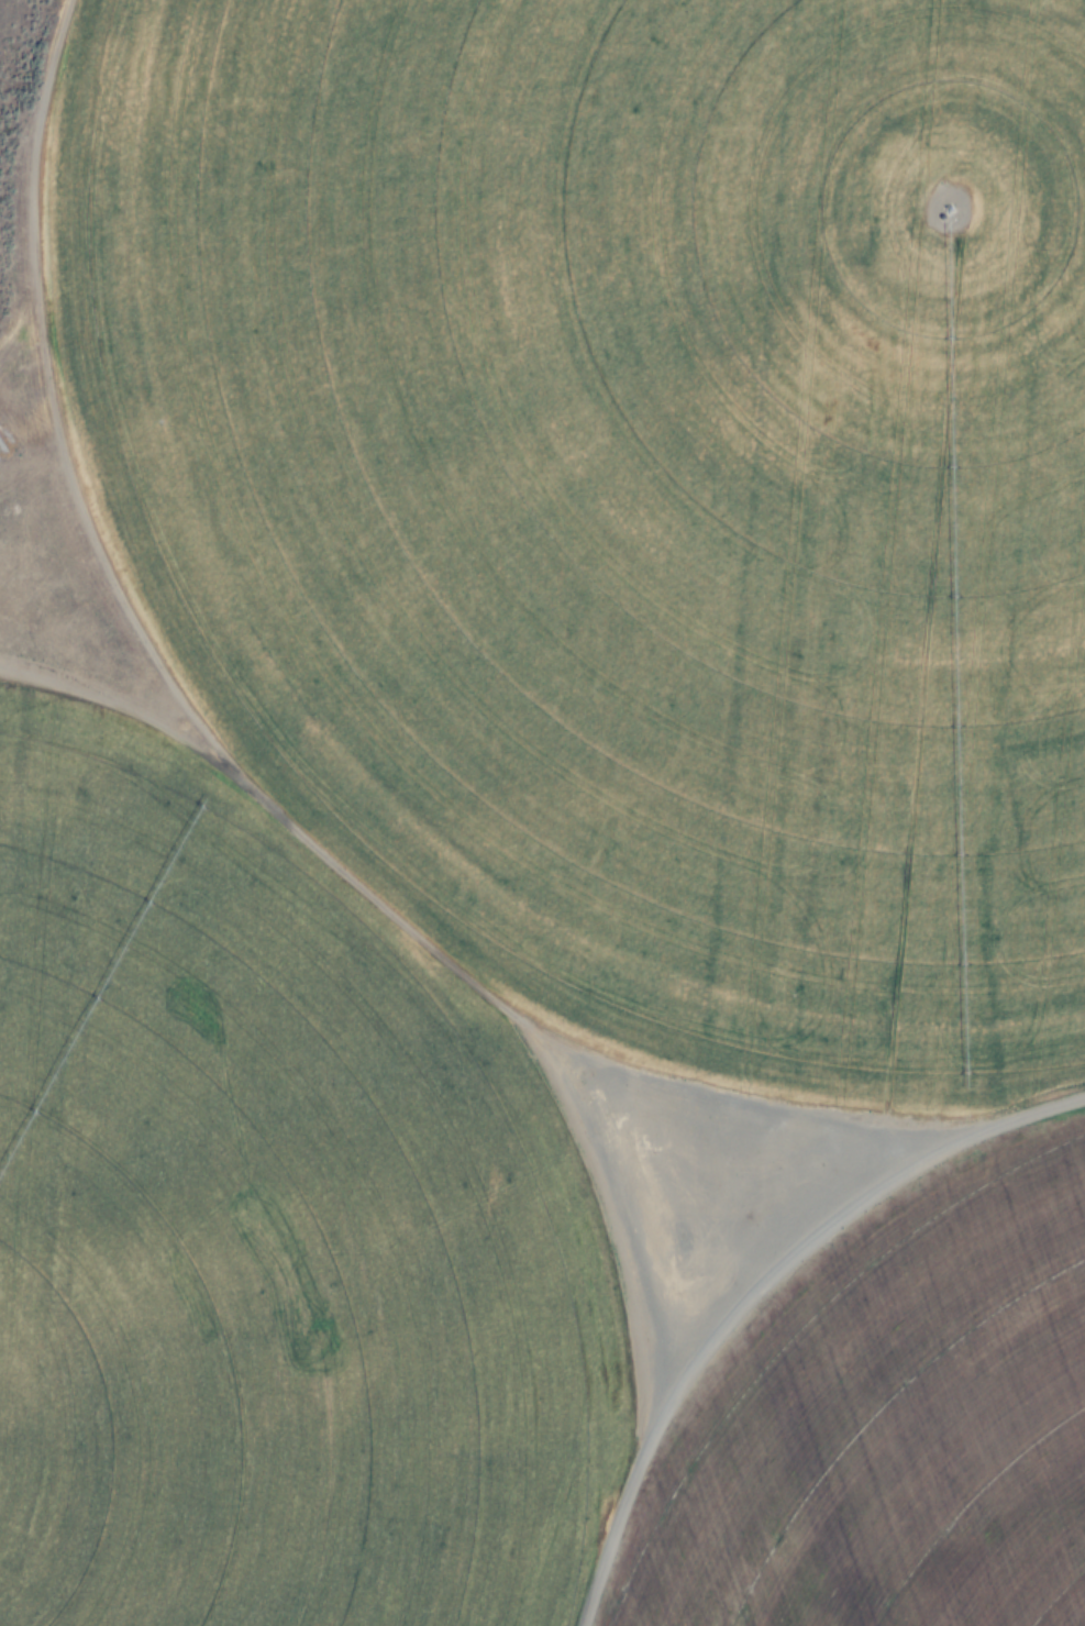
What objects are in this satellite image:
building: (683, 1137)
building: (616, 1141)
building: (656, 1264)

